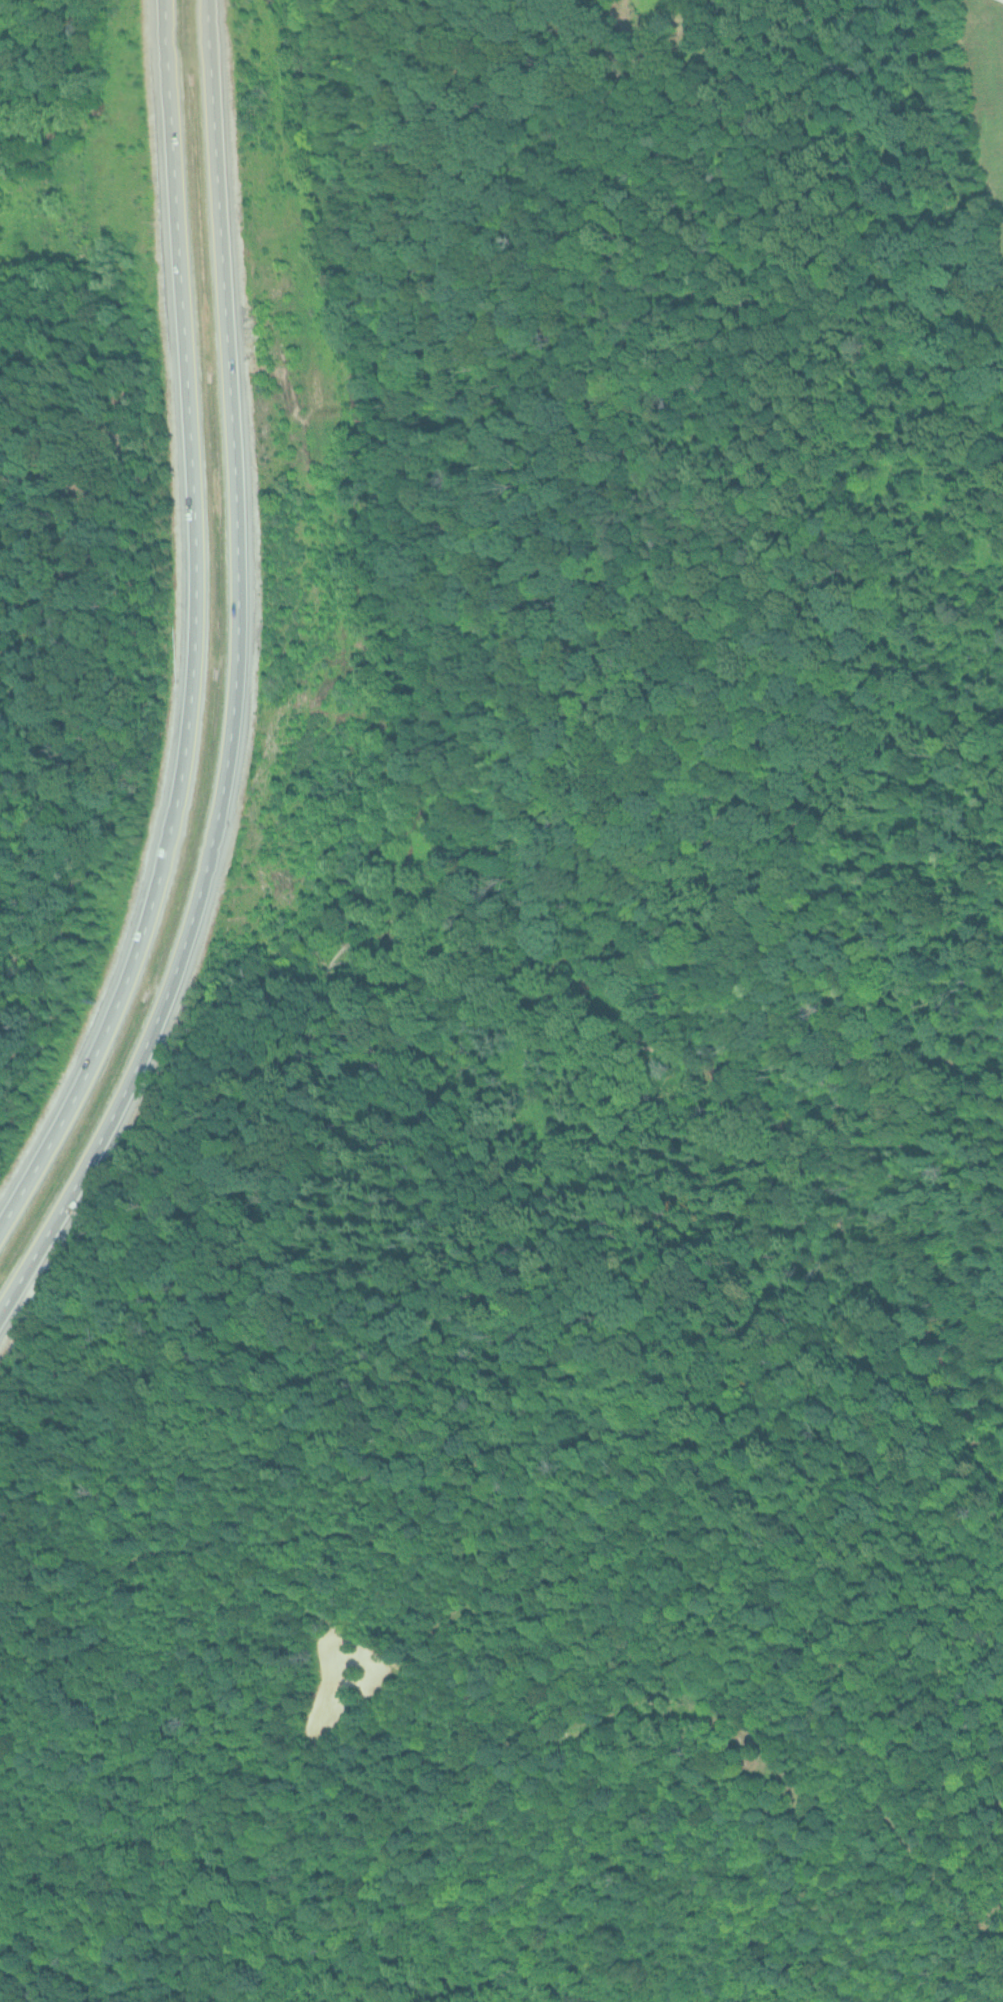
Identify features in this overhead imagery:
road: (192, 636)
road: (244, 691)

